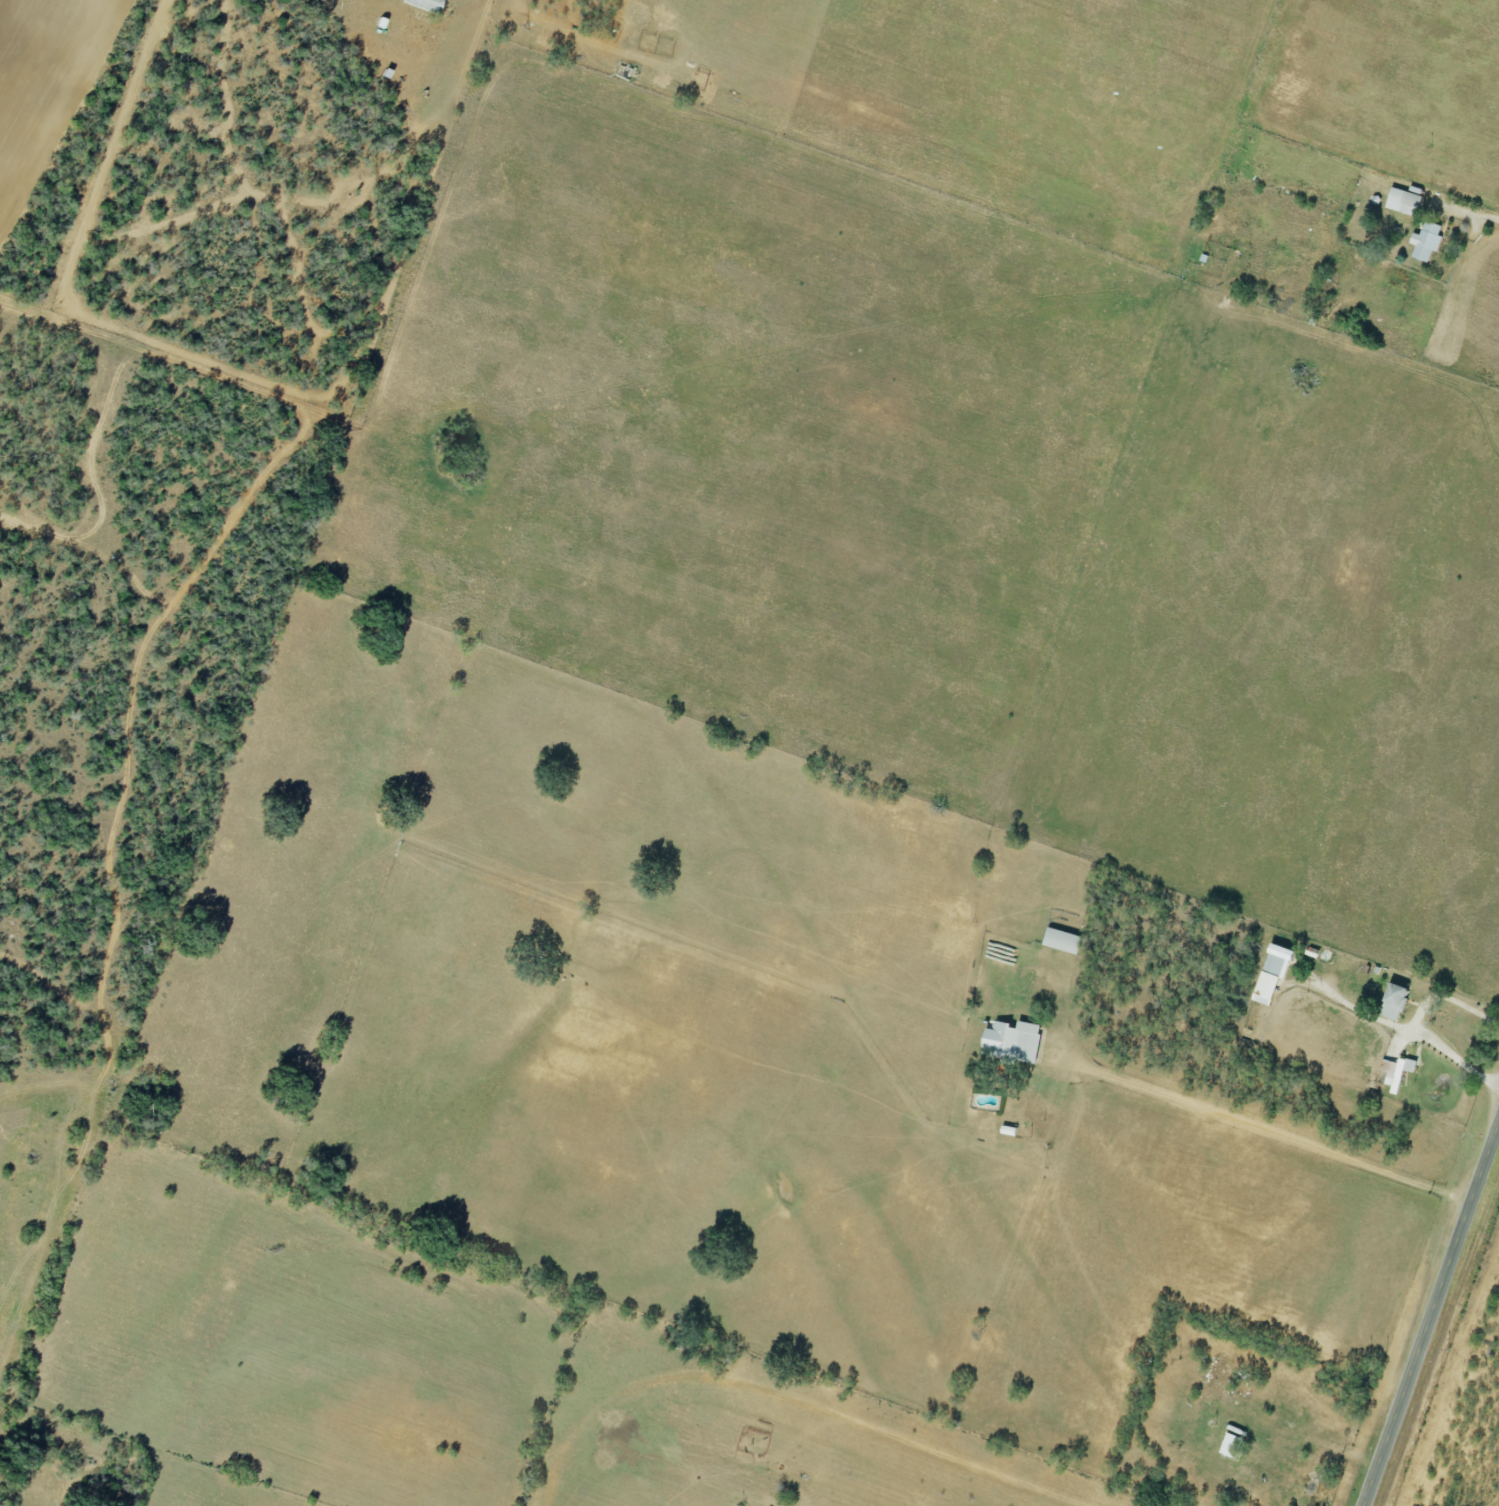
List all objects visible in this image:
building: (427, 4)
building: (1405, 200)
road: (1486, 219)
building: (1428, 241)
building: (1064, 940)
building: (1397, 1001)
road: (1354, 1012)
road: (1411, 1025)
building: (1015, 1041)
building: (1398, 1071)
road: (1261, 1126)
road: (1428, 1309)
building: (1233, 1445)

